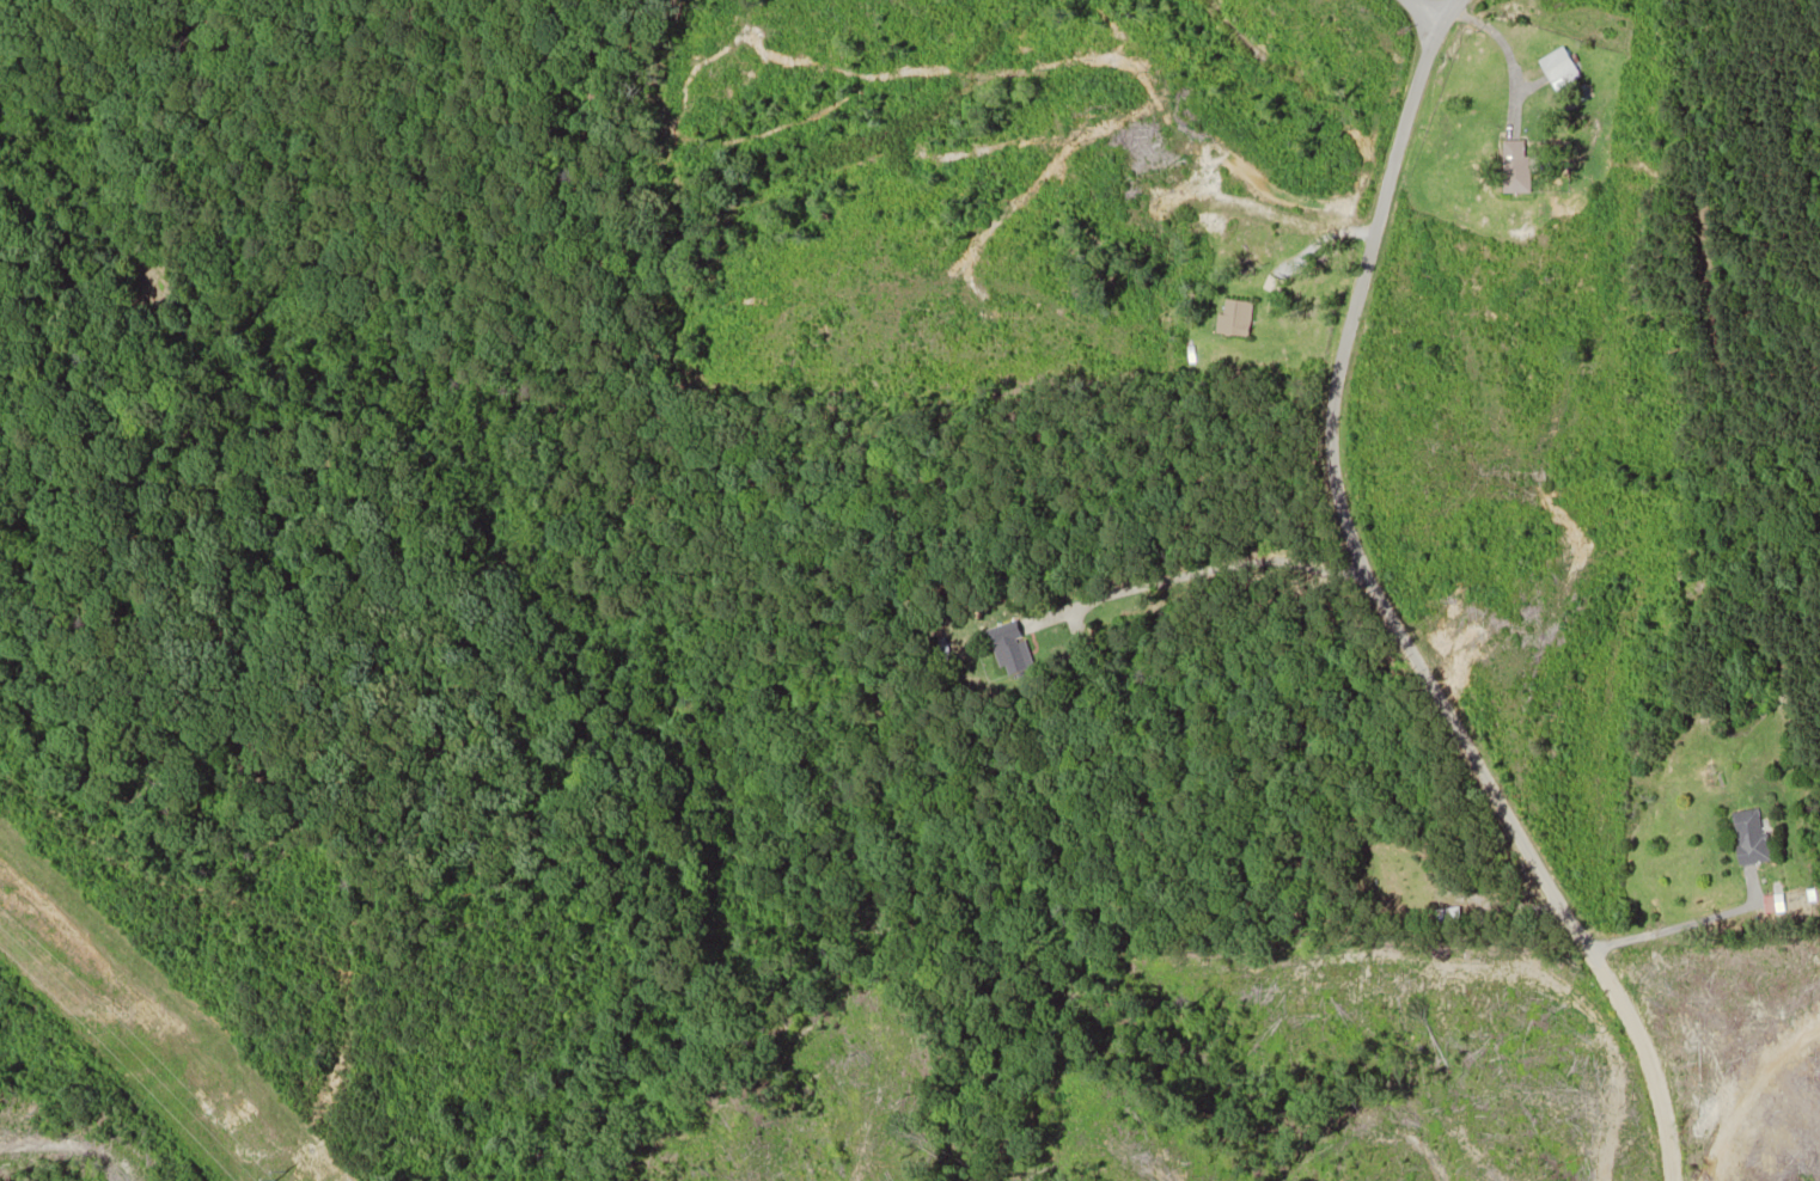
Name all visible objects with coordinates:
road: (1425, 25)
building: (1558, 67)
road: (1369, 605)
building: (1752, 834)

